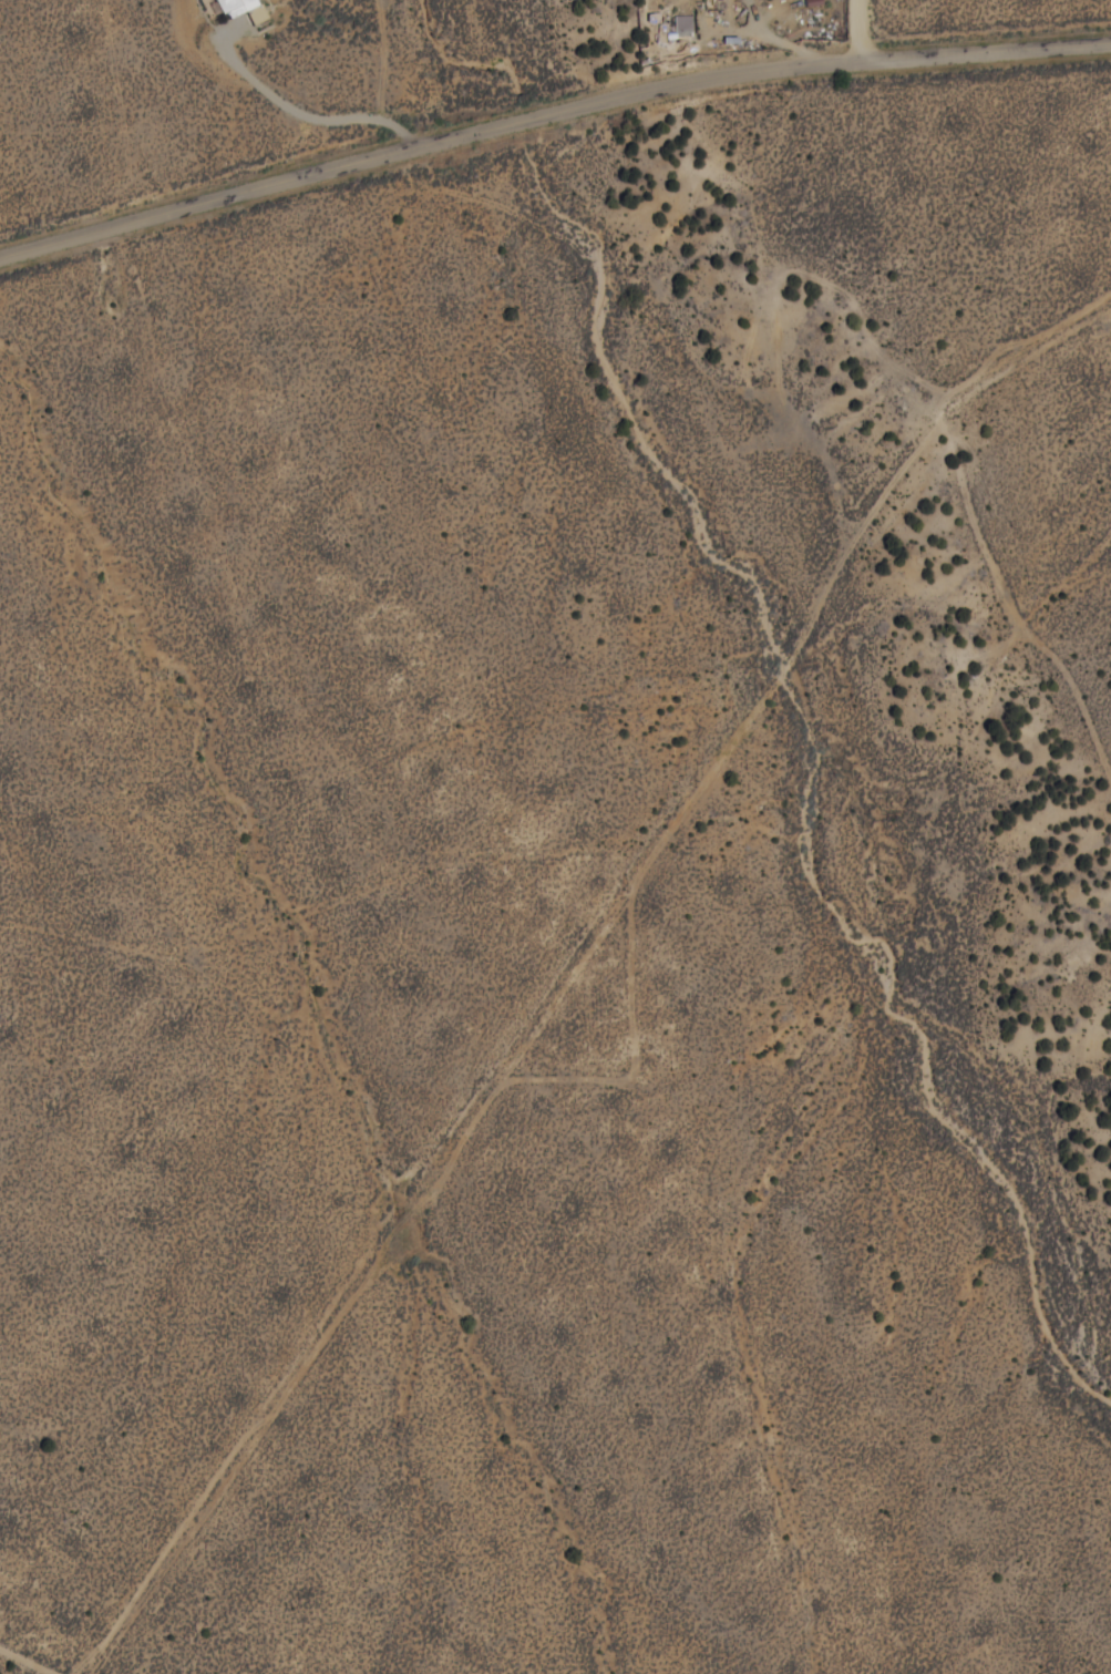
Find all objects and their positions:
building: (241, 9)
road: (854, 30)
road: (549, 111)
road: (39, 1655)

